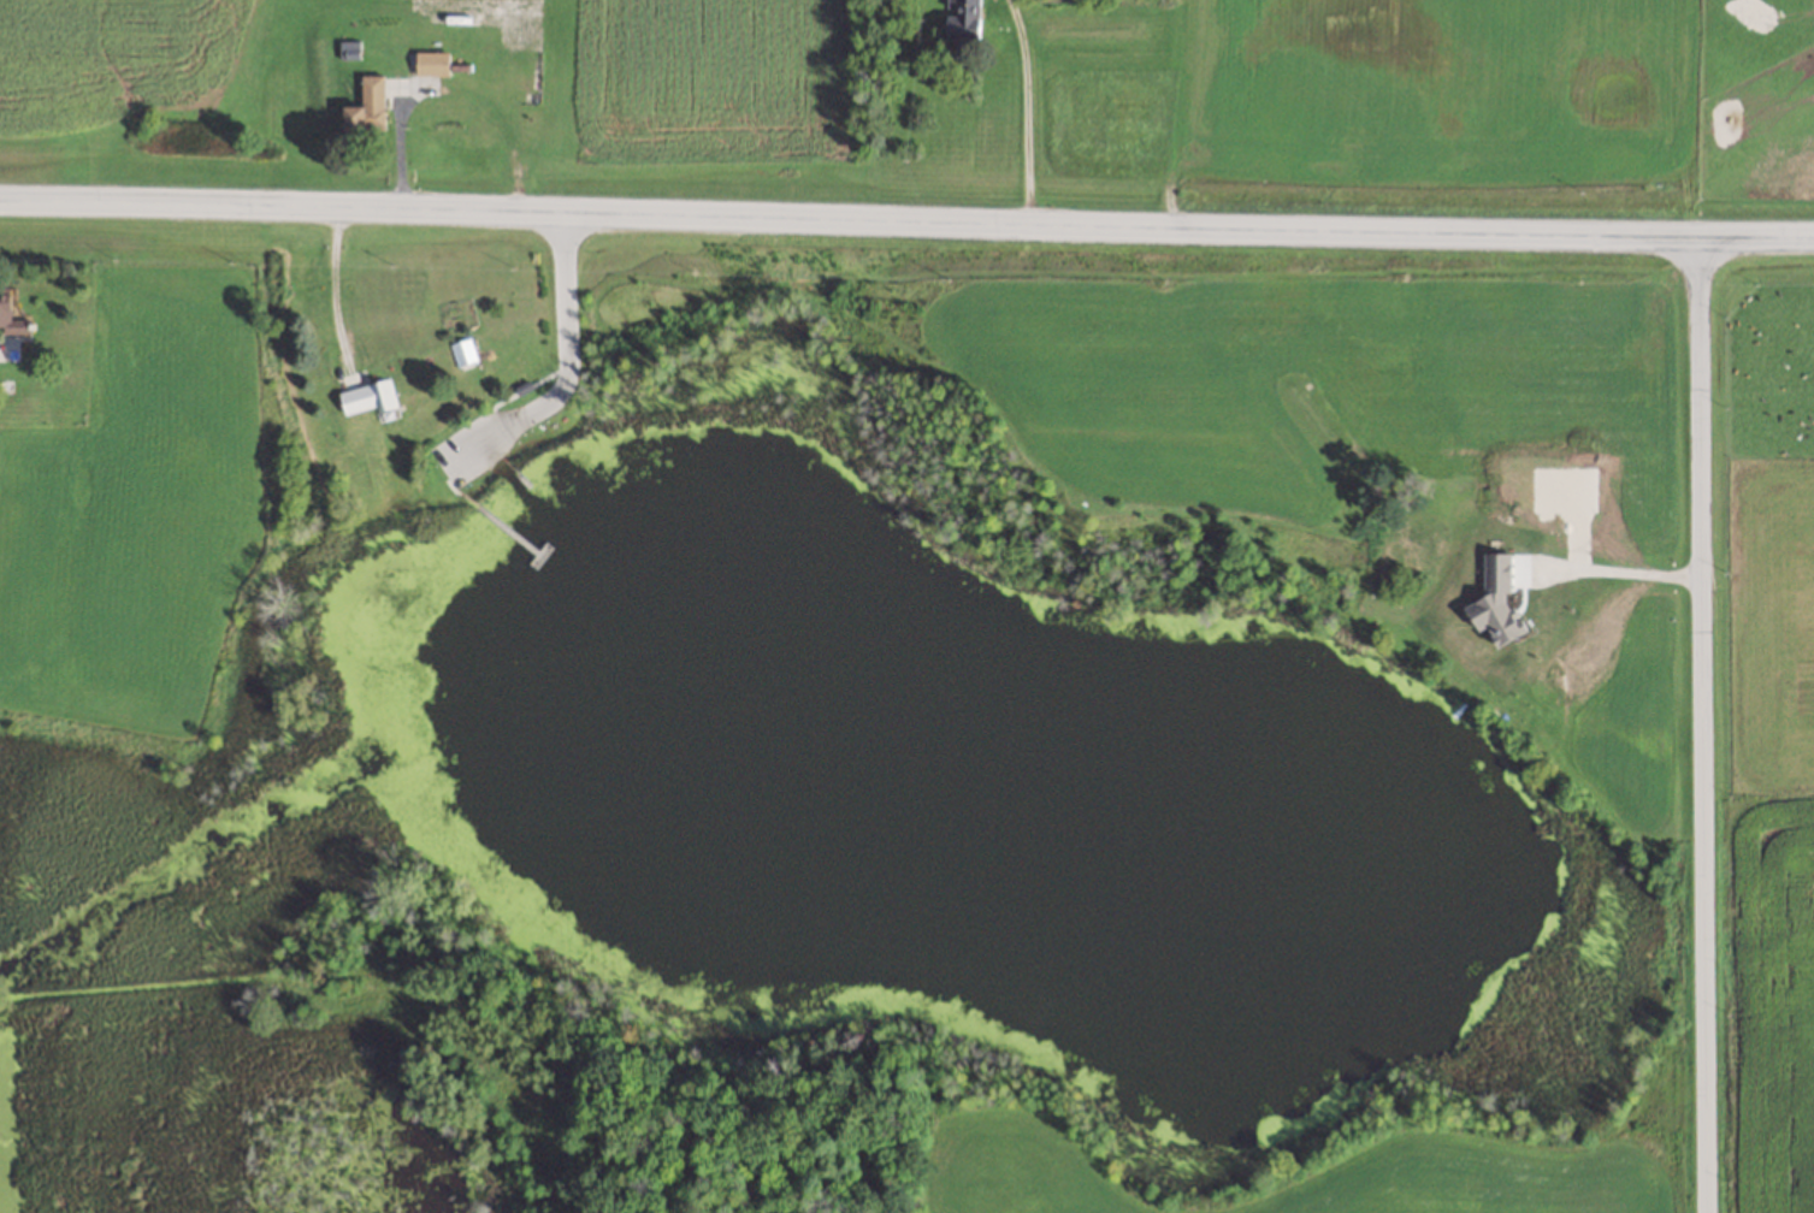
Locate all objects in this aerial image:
building: (963, 19)
building: (431, 61)
crop: (1760, 97)
building: (367, 106)
road: (847, 219)
road: (1755, 237)
building: (10, 313)
building: (461, 350)
building: (368, 397)
building: (1400, 550)
road: (1613, 566)
building: (1549, 614)
road: (1702, 724)
crop: (1775, 732)

